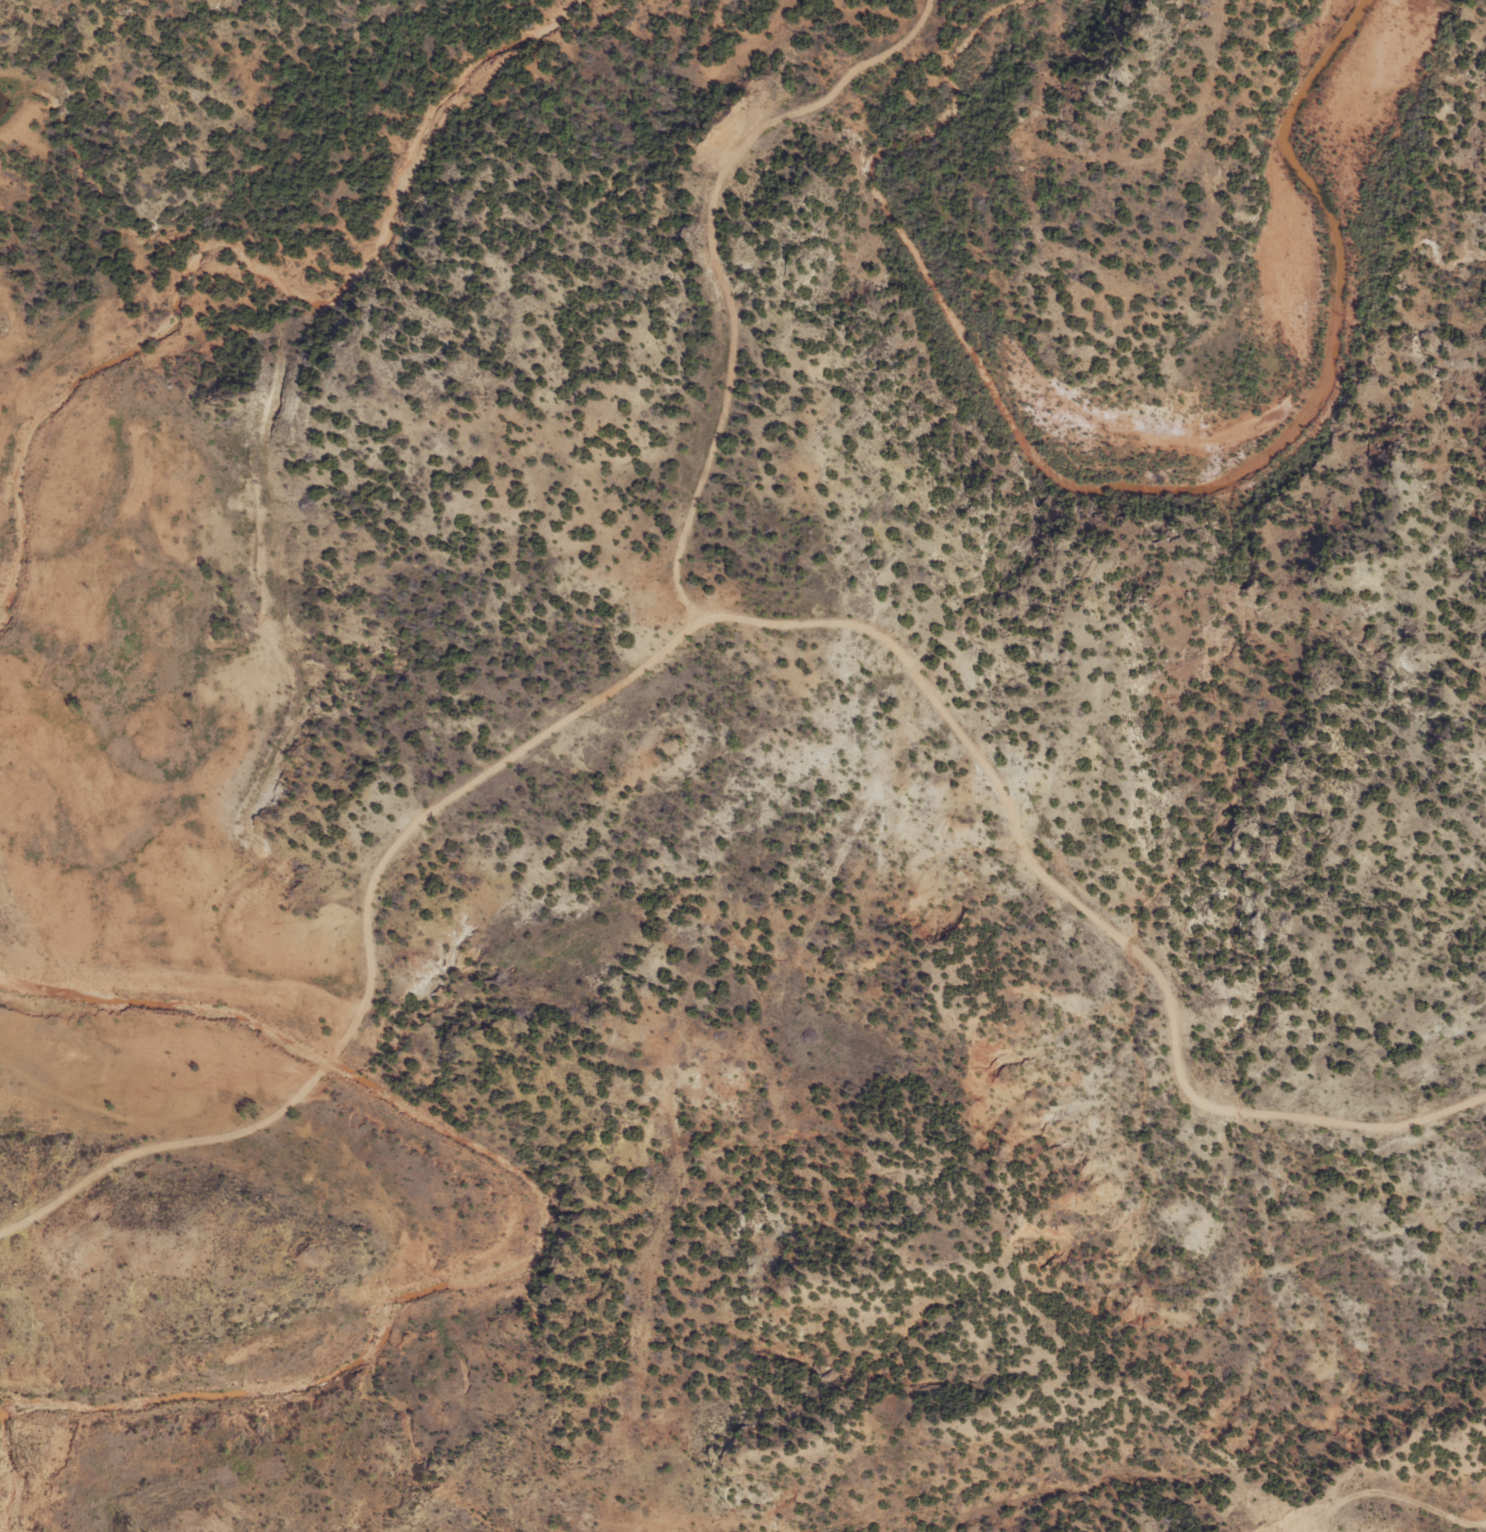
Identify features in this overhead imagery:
road: (1337, 1279)

